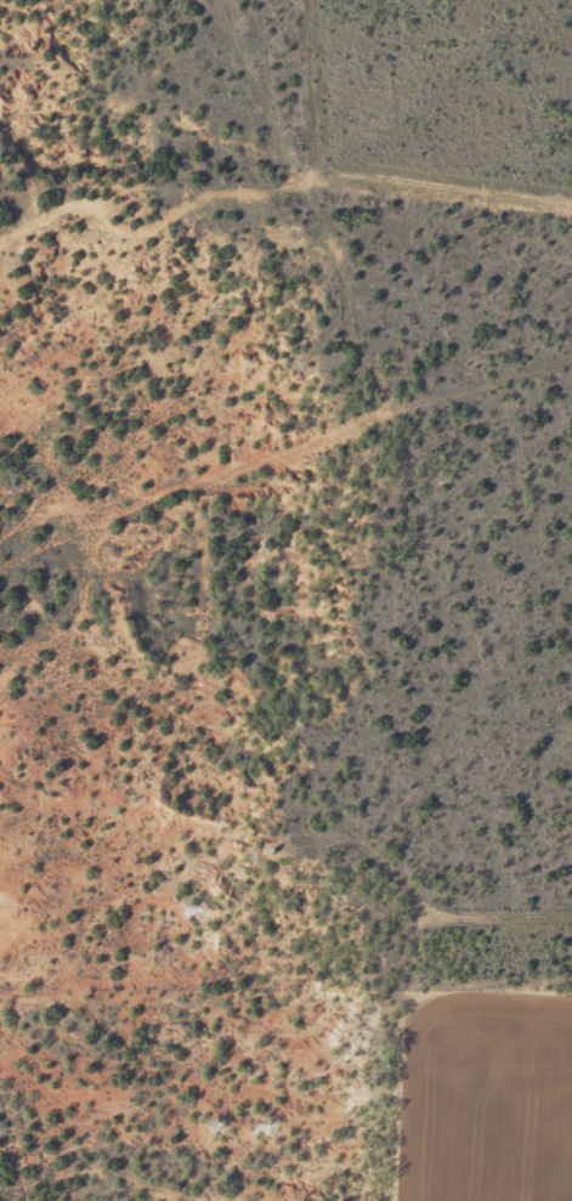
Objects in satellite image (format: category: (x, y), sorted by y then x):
road: (334, 194)

